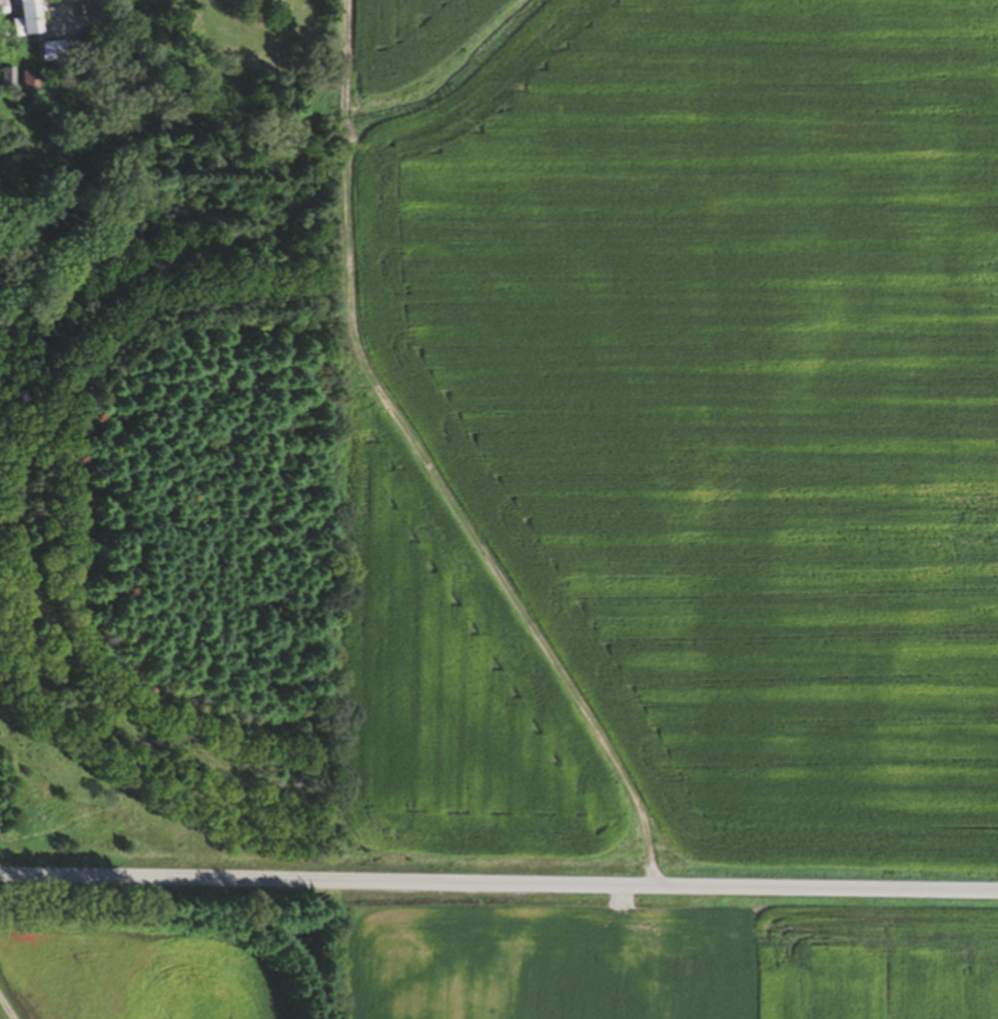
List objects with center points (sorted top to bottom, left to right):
building: (22, 18)
road: (498, 884)
road: (3, 1013)

